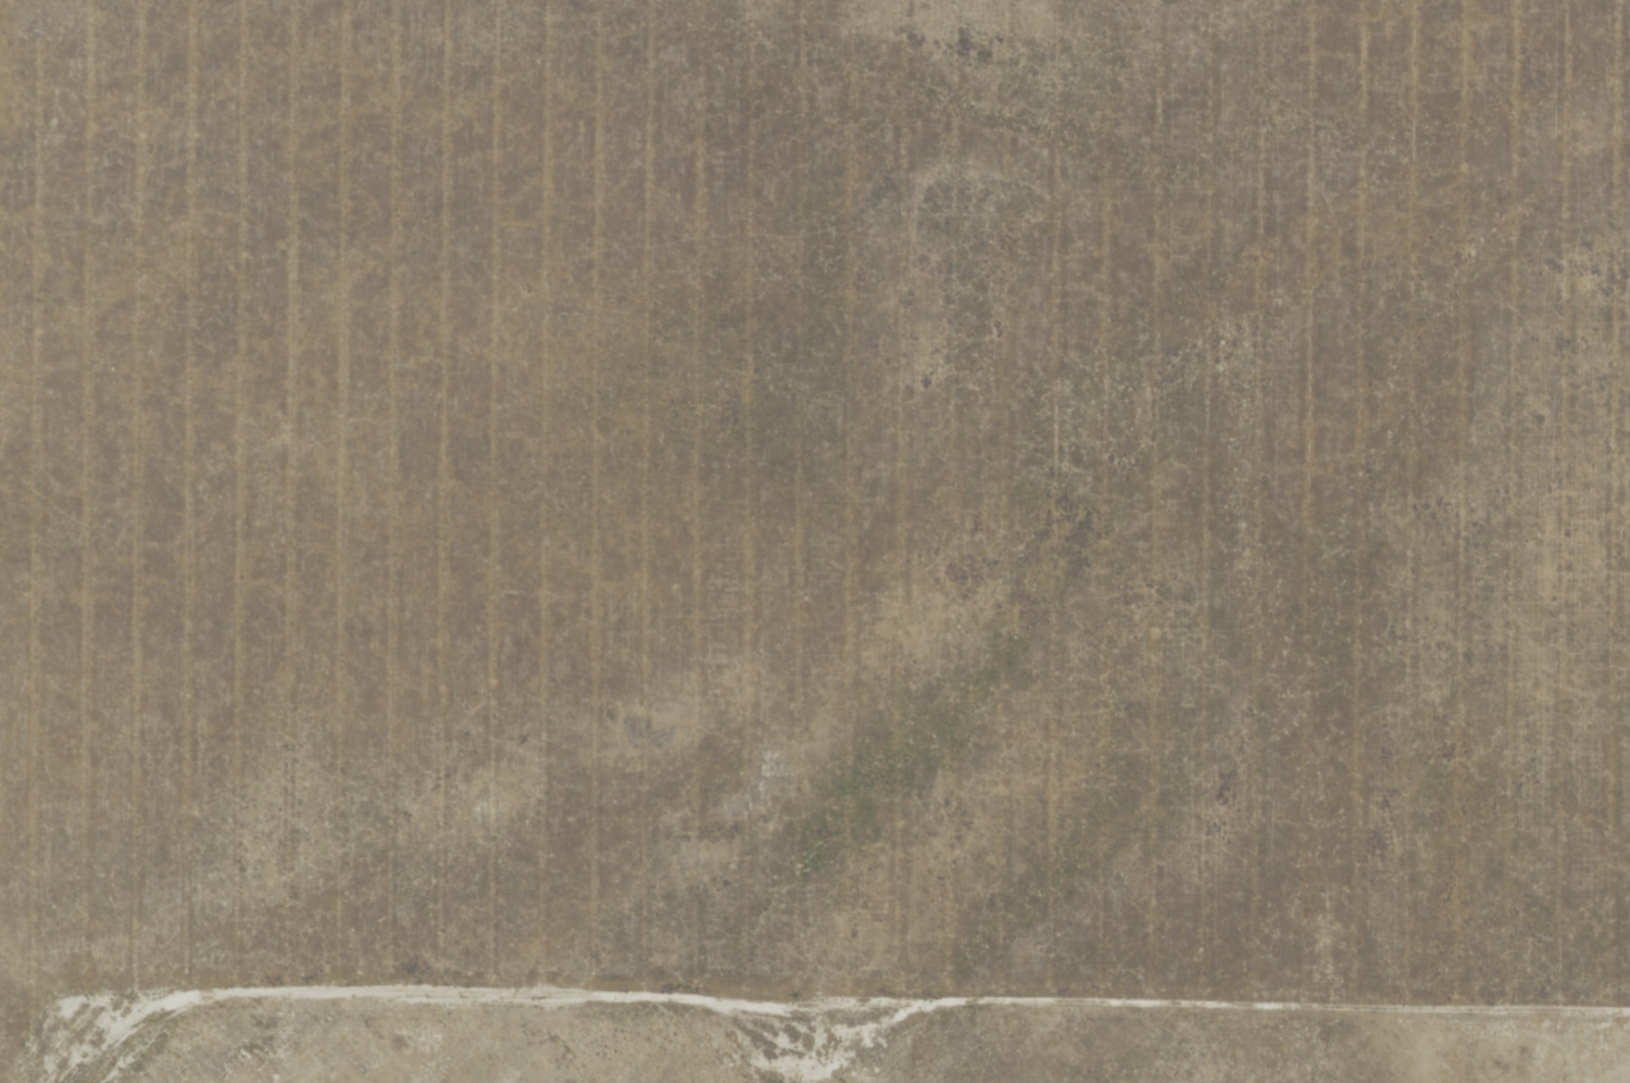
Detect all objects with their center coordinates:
road: (830, 999)

